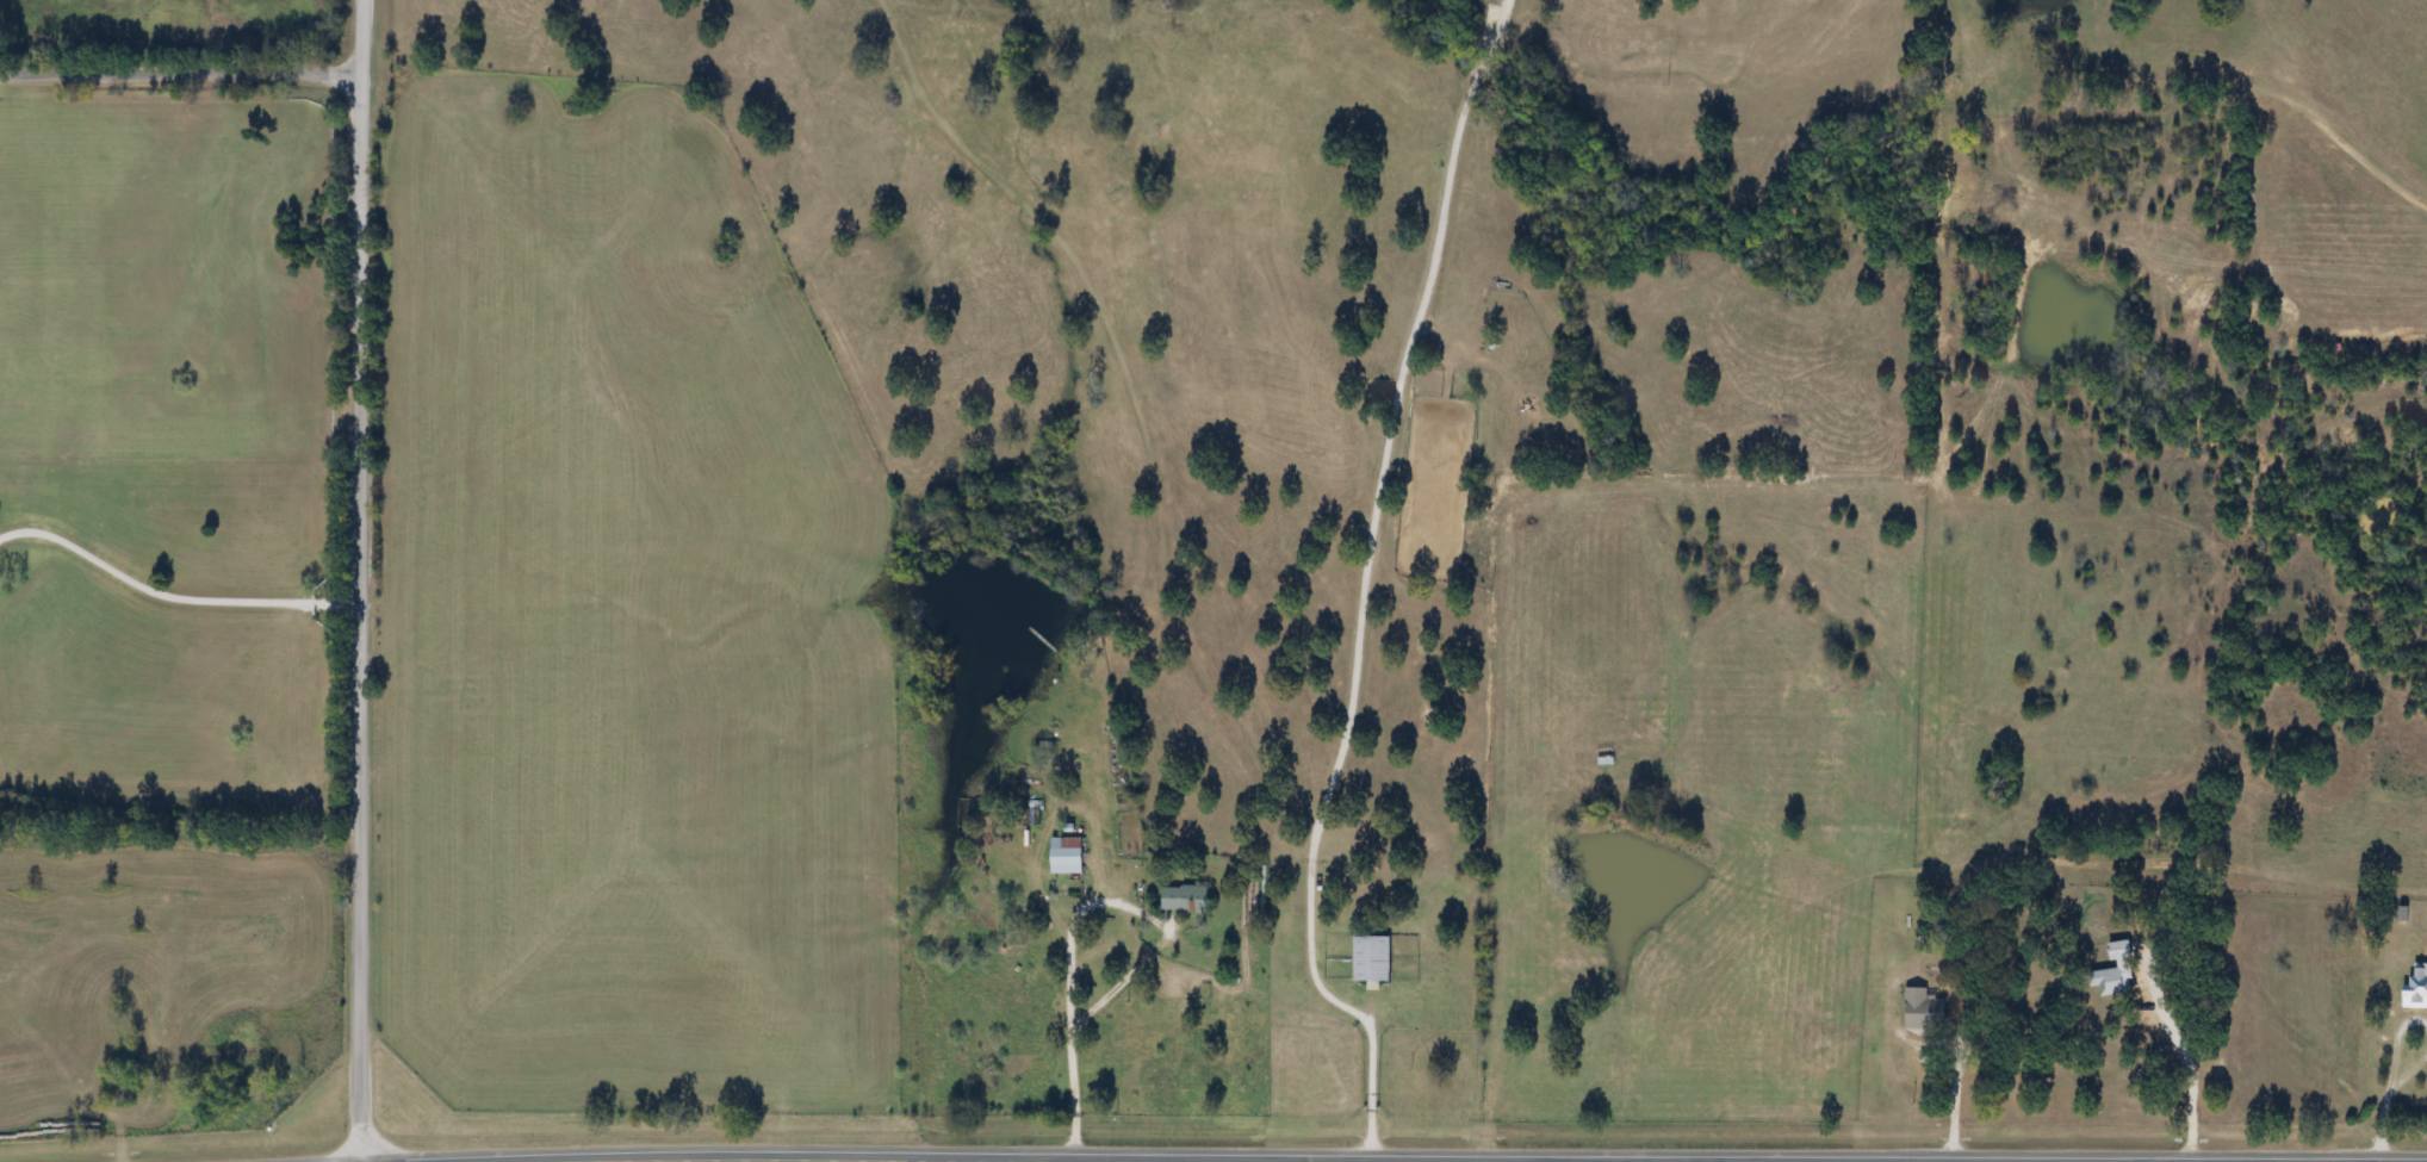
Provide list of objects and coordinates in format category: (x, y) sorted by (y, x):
road: (182, 74)
road: (1363, 517)
road: (365, 580)
road: (174, 594)
building: (1062, 855)
building: (1181, 897)
road: (1119, 899)
building: (1368, 957)
building: (2414, 986)
building: (1919, 1011)
road: (2397, 1043)
road: (2179, 1049)
road: (2410, 1073)
road: (1364, 1087)
road: (1066, 1096)
road: (1939, 1104)
road: (2382, 1124)

